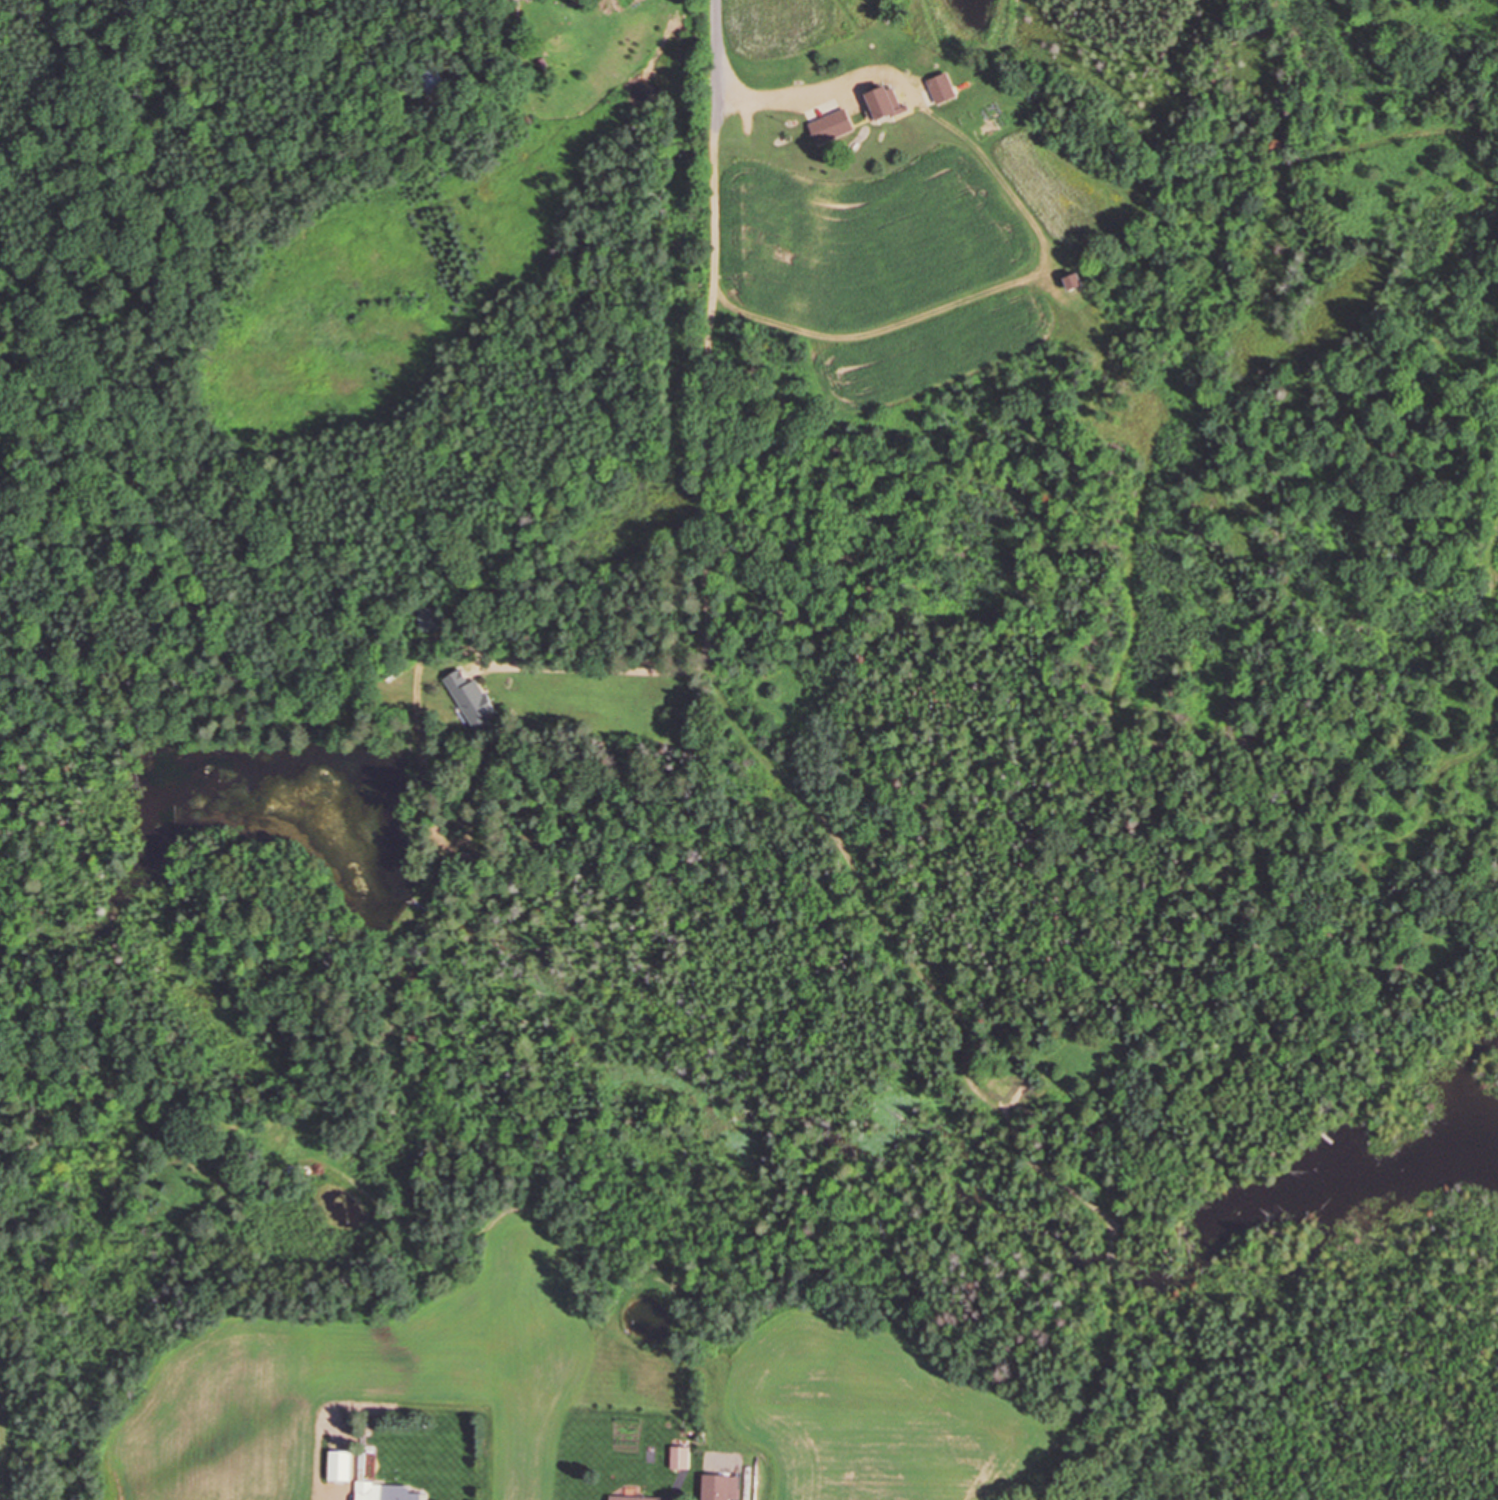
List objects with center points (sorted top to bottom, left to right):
building: (508, 0)
building: (433, 80)
building: (940, 88)
building: (881, 101)
building: (830, 126)
building: (1068, 280)
road: (707, 493)
building: (435, 618)
building: (471, 698)
building: (679, 1457)
building: (338, 1465)
building: (379, 1486)
building: (718, 1487)
building: (635, 1497)

